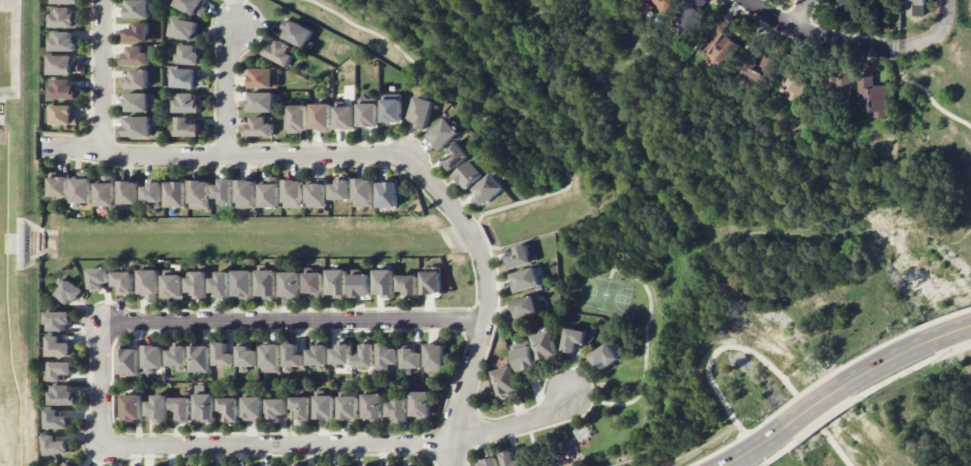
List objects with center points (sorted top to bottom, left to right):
building: (64, 1)
building: (654, 4)
building: (193, 6)
building: (848, 6)
building: (915, 7)
building: (138, 8)
road: (240, 11)
road: (802, 14)
building: (63, 18)
building: (690, 18)
building: (183, 28)
building: (138, 33)
building: (298, 33)
road: (935, 35)
building: (717, 38)
road: (818, 38)
building: (63, 42)
building: (279, 51)
building: (188, 55)
building: (136, 56)
building: (62, 65)
building: (755, 68)
road: (101, 76)
building: (187, 78)
building: (264, 78)
building: (136, 79)
building: (793, 84)
road: (224, 87)
building: (842, 87)
building: (63, 90)
road: (926, 90)
building: (871, 96)
building: (138, 101)
building: (261, 102)
building: (187, 103)
building: (391, 111)
building: (368, 113)
building: (421, 113)
building: (62, 114)
building: (321, 117)
building: (297, 118)
building: (344, 118)
road: (486, 122)
building: (137, 126)
building: (259, 126)
building: (185, 128)
building: (443, 134)
road: (394, 155)
building: (455, 157)
building: (470, 174)
building: (58, 187)
building: (340, 190)
building: (486, 190)
building: (222, 191)
building: (81, 192)
building: (105, 192)
building: (128, 192)
building: (152, 192)
building: (269, 192)
building: (363, 192)
building: (293, 193)
building: (175, 194)
building: (199, 194)
building: (246, 194)
building: (317, 195)
building: (388, 195)
building: (519, 256)
road: (611, 271)
road: (633, 277)
building: (97, 278)
building: (523, 280)
building: (123, 281)
building: (336, 282)
building: (430, 282)
building: (243, 283)
building: (313, 283)
building: (383, 283)
building: (148, 284)
building: (221, 284)
building: (266, 284)
building: (290, 284)
building: (196, 285)
building: (358, 285)
building: (408, 285)
building: (171, 286)
building: (70, 292)
park: (604, 293)
building: (526, 306)
road: (944, 317)
road: (292, 319)
building: (55, 321)
road: (906, 334)
road: (949, 334)
building: (572, 339)
building: (544, 345)
building: (57, 347)
road: (953, 348)
road: (755, 350)
building: (222, 354)
building: (341, 354)
building: (317, 355)
building: (153, 356)
building: (247, 356)
building: (365, 356)
building: (523, 356)
building: (177, 357)
building: (292, 357)
building: (434, 357)
building: (603, 357)
building: (200, 358)
building: (270, 358)
building: (387, 358)
building: (411, 359)
road: (884, 360)
building: (129, 361)
building: (61, 369)
road: (831, 374)
road: (894, 376)
building: (505, 381)
road: (102, 382)
building: (63, 395)
building: (420, 404)
road: (813, 405)
building: (132, 406)
building: (372, 406)
building: (204, 407)
building: (301, 407)
building: (325, 407)
building: (348, 407)
building: (156, 408)
building: (181, 408)
building: (229, 408)
building: (252, 408)
building: (275, 409)
building: (397, 409)
building: (57, 419)
road: (825, 419)
park: (904, 426)
road: (732, 441)
road: (342, 443)
building: (56, 445)
road: (754, 446)
road: (777, 452)
building: (510, 459)
building: (489, 462)
building: (68, 464)
building: (297, 465)
building: (369, 465)
road: (727, 465)

